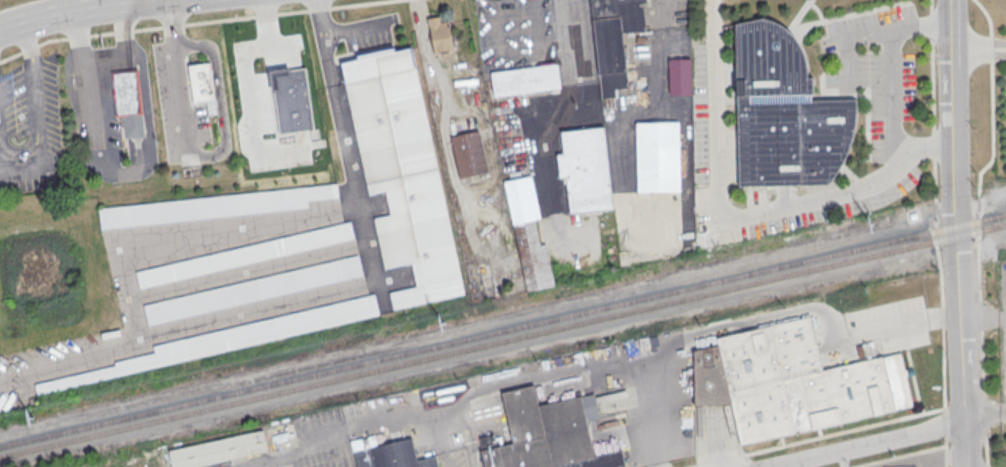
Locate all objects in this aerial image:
road: (67, 12)
road: (292, 12)
road: (171, 20)
road: (949, 24)
road: (342, 28)
road: (90, 35)
building: (440, 38)
building: (614, 39)
road: (978, 49)
building: (680, 75)
building: (525, 79)
road: (34, 83)
building: (202, 85)
building: (128, 101)
parking lot: (178, 108)
road: (714, 111)
building: (783, 114)
parking lot: (29, 124)
road: (4, 141)
road: (992, 149)
road: (221, 150)
road: (923, 150)
building: (469, 153)
road: (934, 153)
building: (657, 157)
road: (894, 163)
road: (29, 170)
building: (586, 171)
building: (401, 174)
road: (130, 176)
building: (213, 205)
power tower: (874, 223)
building: (528, 234)
building: (244, 254)
road: (955, 258)
building: (253, 289)
road: (980, 315)
road: (942, 316)
road: (221, 319)
power tower: (447, 326)
railway: (502, 330)
building: (227, 341)
railway: (503, 341)
road: (981, 361)
road: (70, 363)
building: (792, 384)
road: (984, 411)
road: (985, 413)
power tower: (34, 420)
road: (945, 422)
road: (853, 427)
building: (548, 433)
road: (865, 442)
building: (218, 450)
road: (986, 450)
road: (945, 452)
building: (386, 454)
road: (896, 455)
building: (899, 466)
road: (987, 466)

